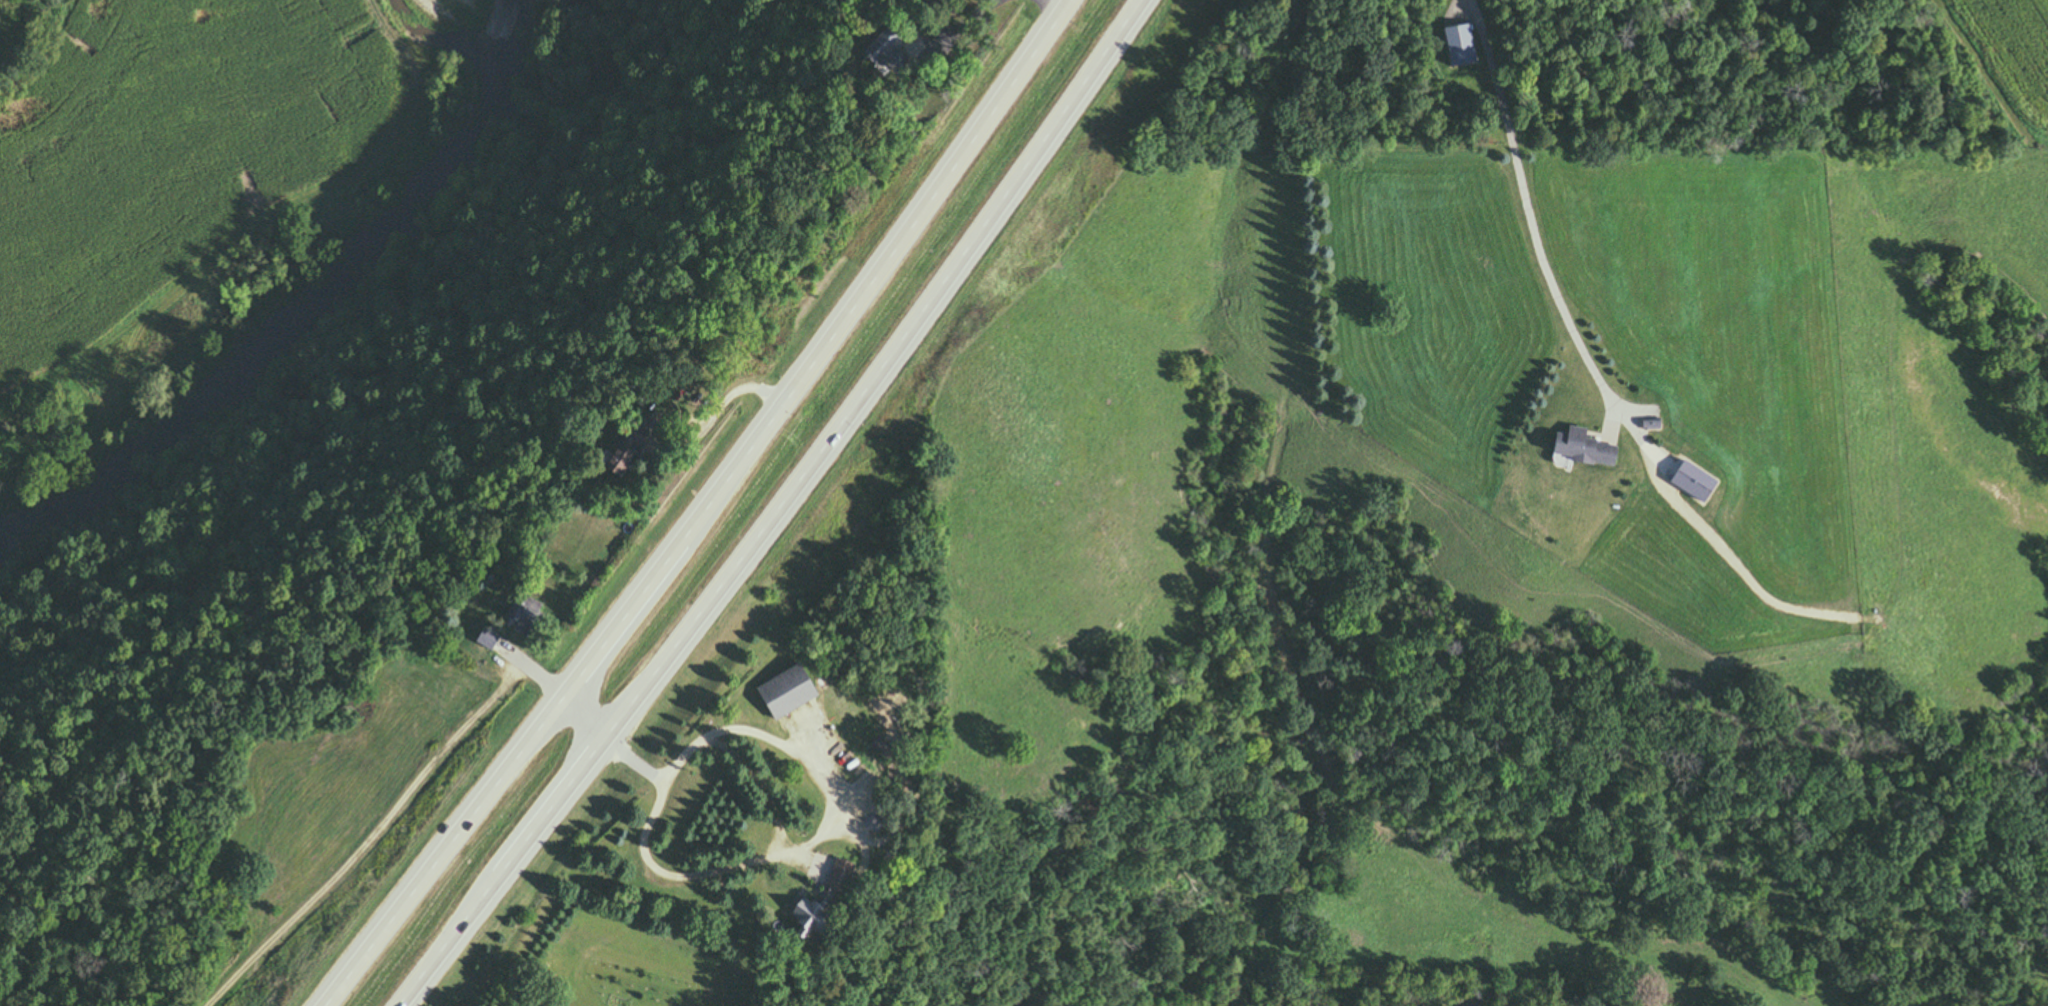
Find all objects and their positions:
road: (1466, 0)
road: (993, 1)
road: (1048, 8)
building: (1455, 44)
building: (881, 54)
building: (932, 72)
road: (1540, 252)
river: (307, 318)
road: (726, 397)
building: (1574, 447)
building: (611, 457)
road: (709, 510)
road: (782, 512)
building: (519, 615)
building: (483, 637)
building: (779, 691)
road: (418, 780)
road: (810, 841)
building: (827, 877)
building: (792, 917)

